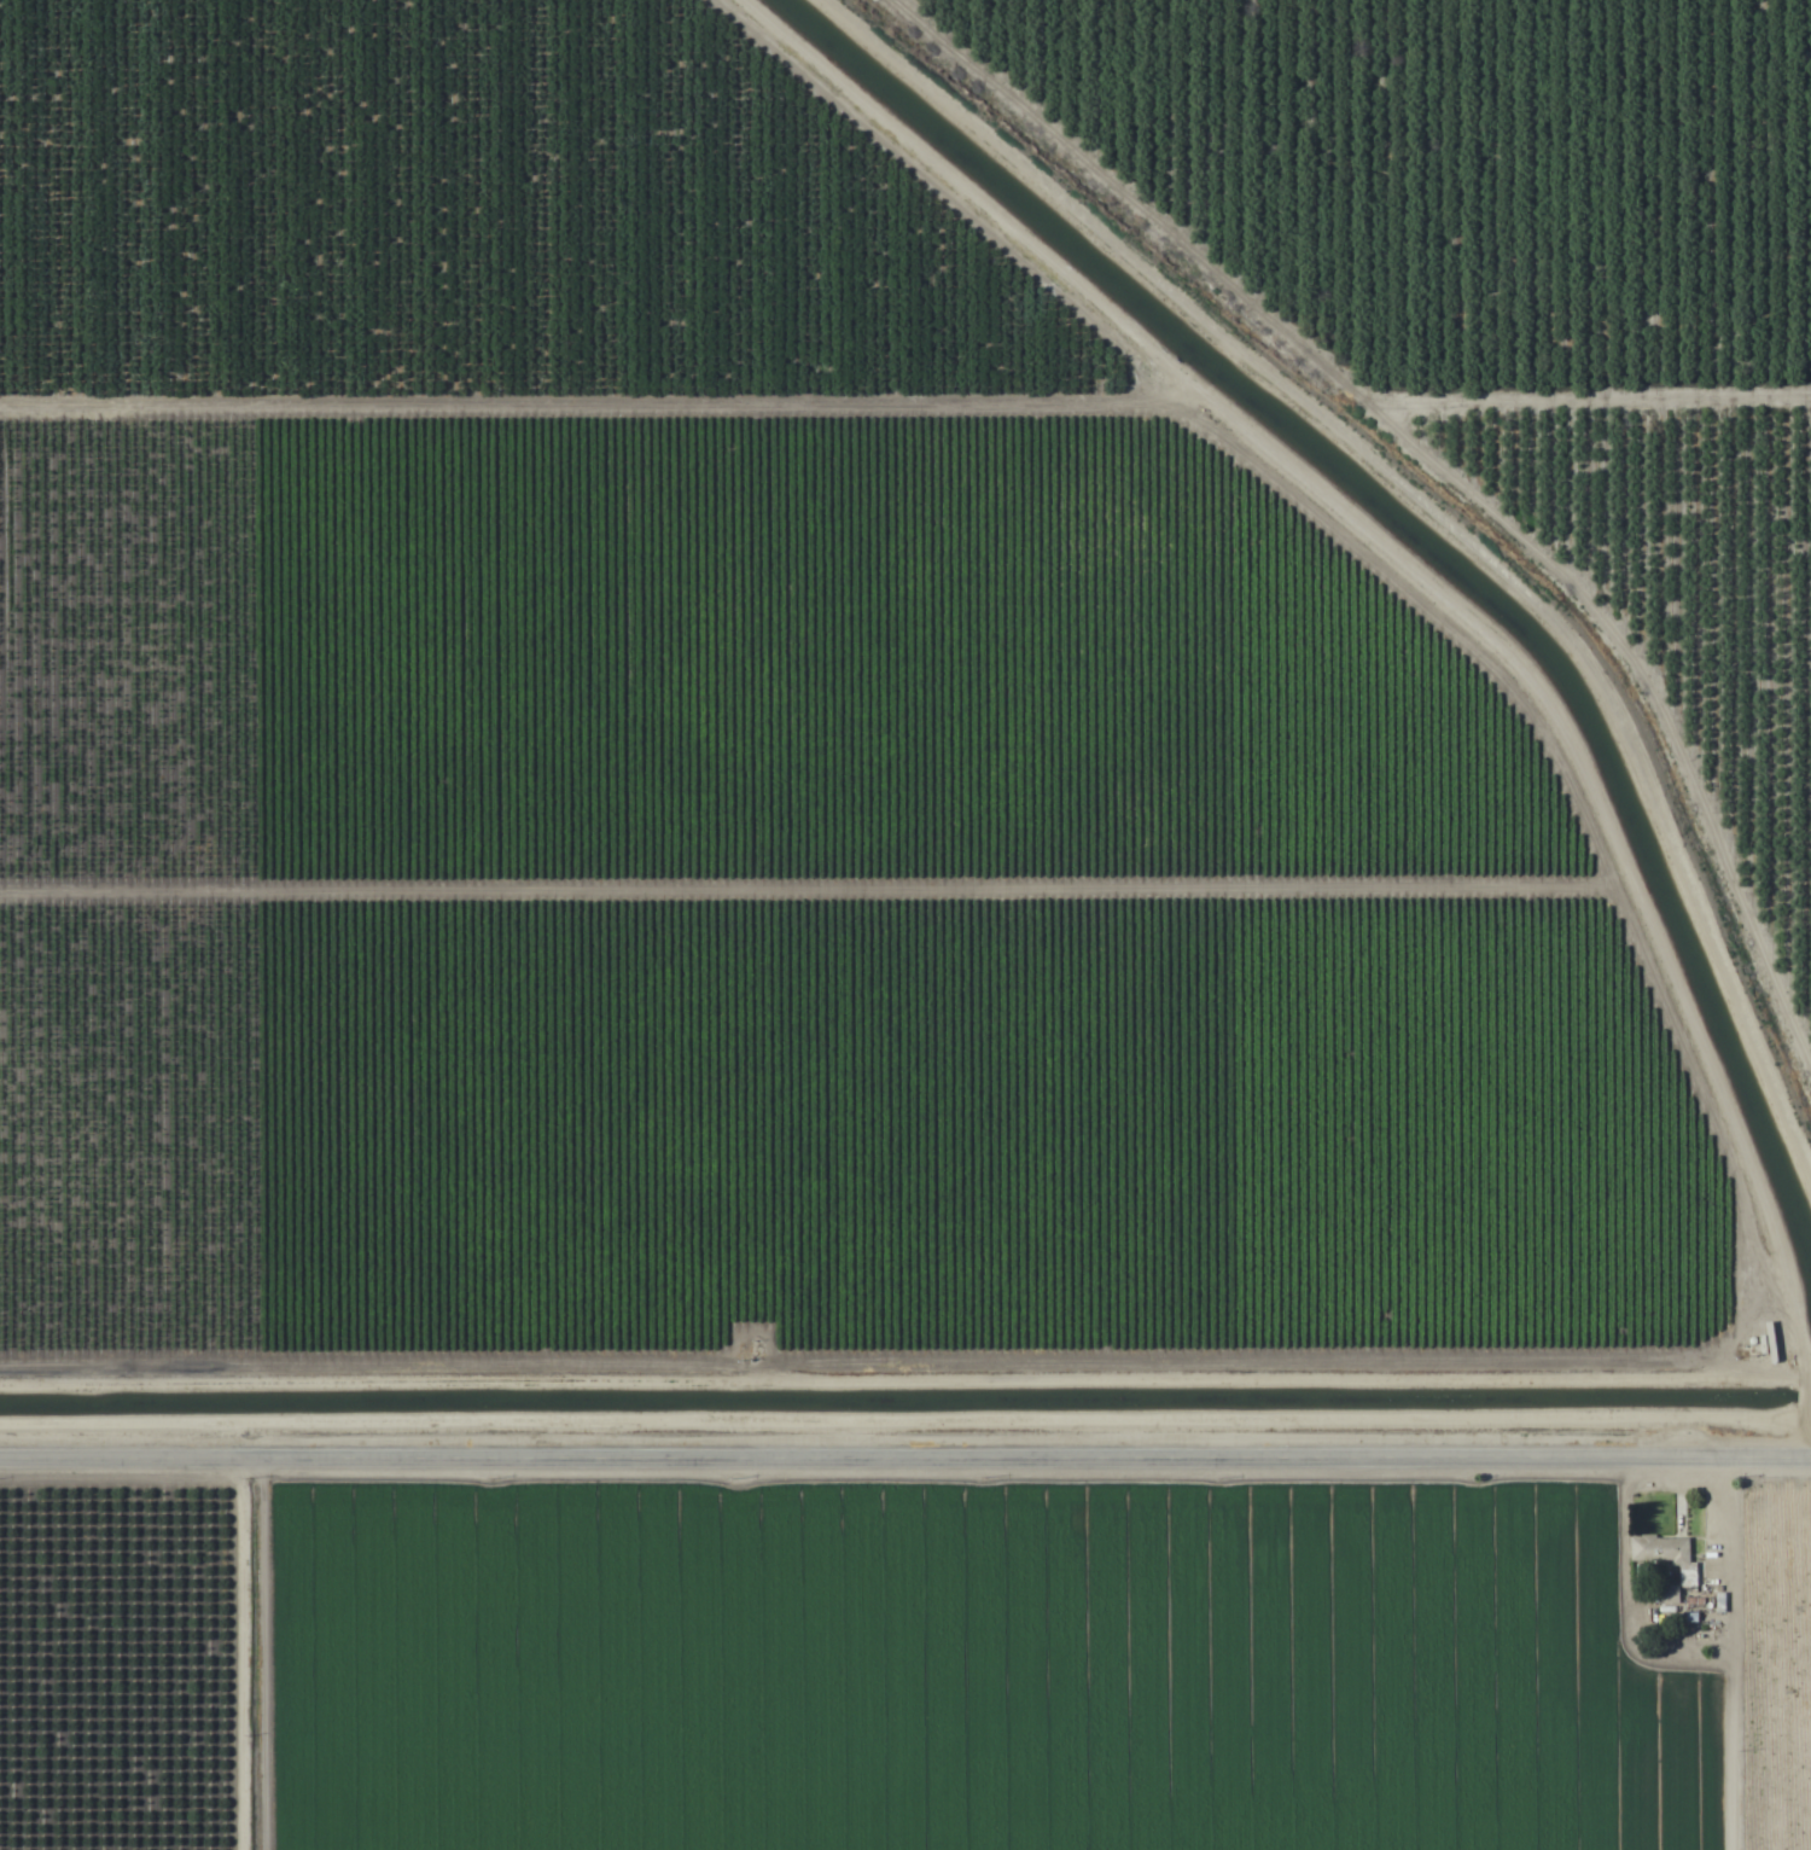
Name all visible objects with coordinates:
road: (1455, 600)
crop: (905, 925)
road: (905, 1450)
building: (1661, 1552)
building: (1667, 1599)
road: (1711, 1647)
road: (237, 1652)

